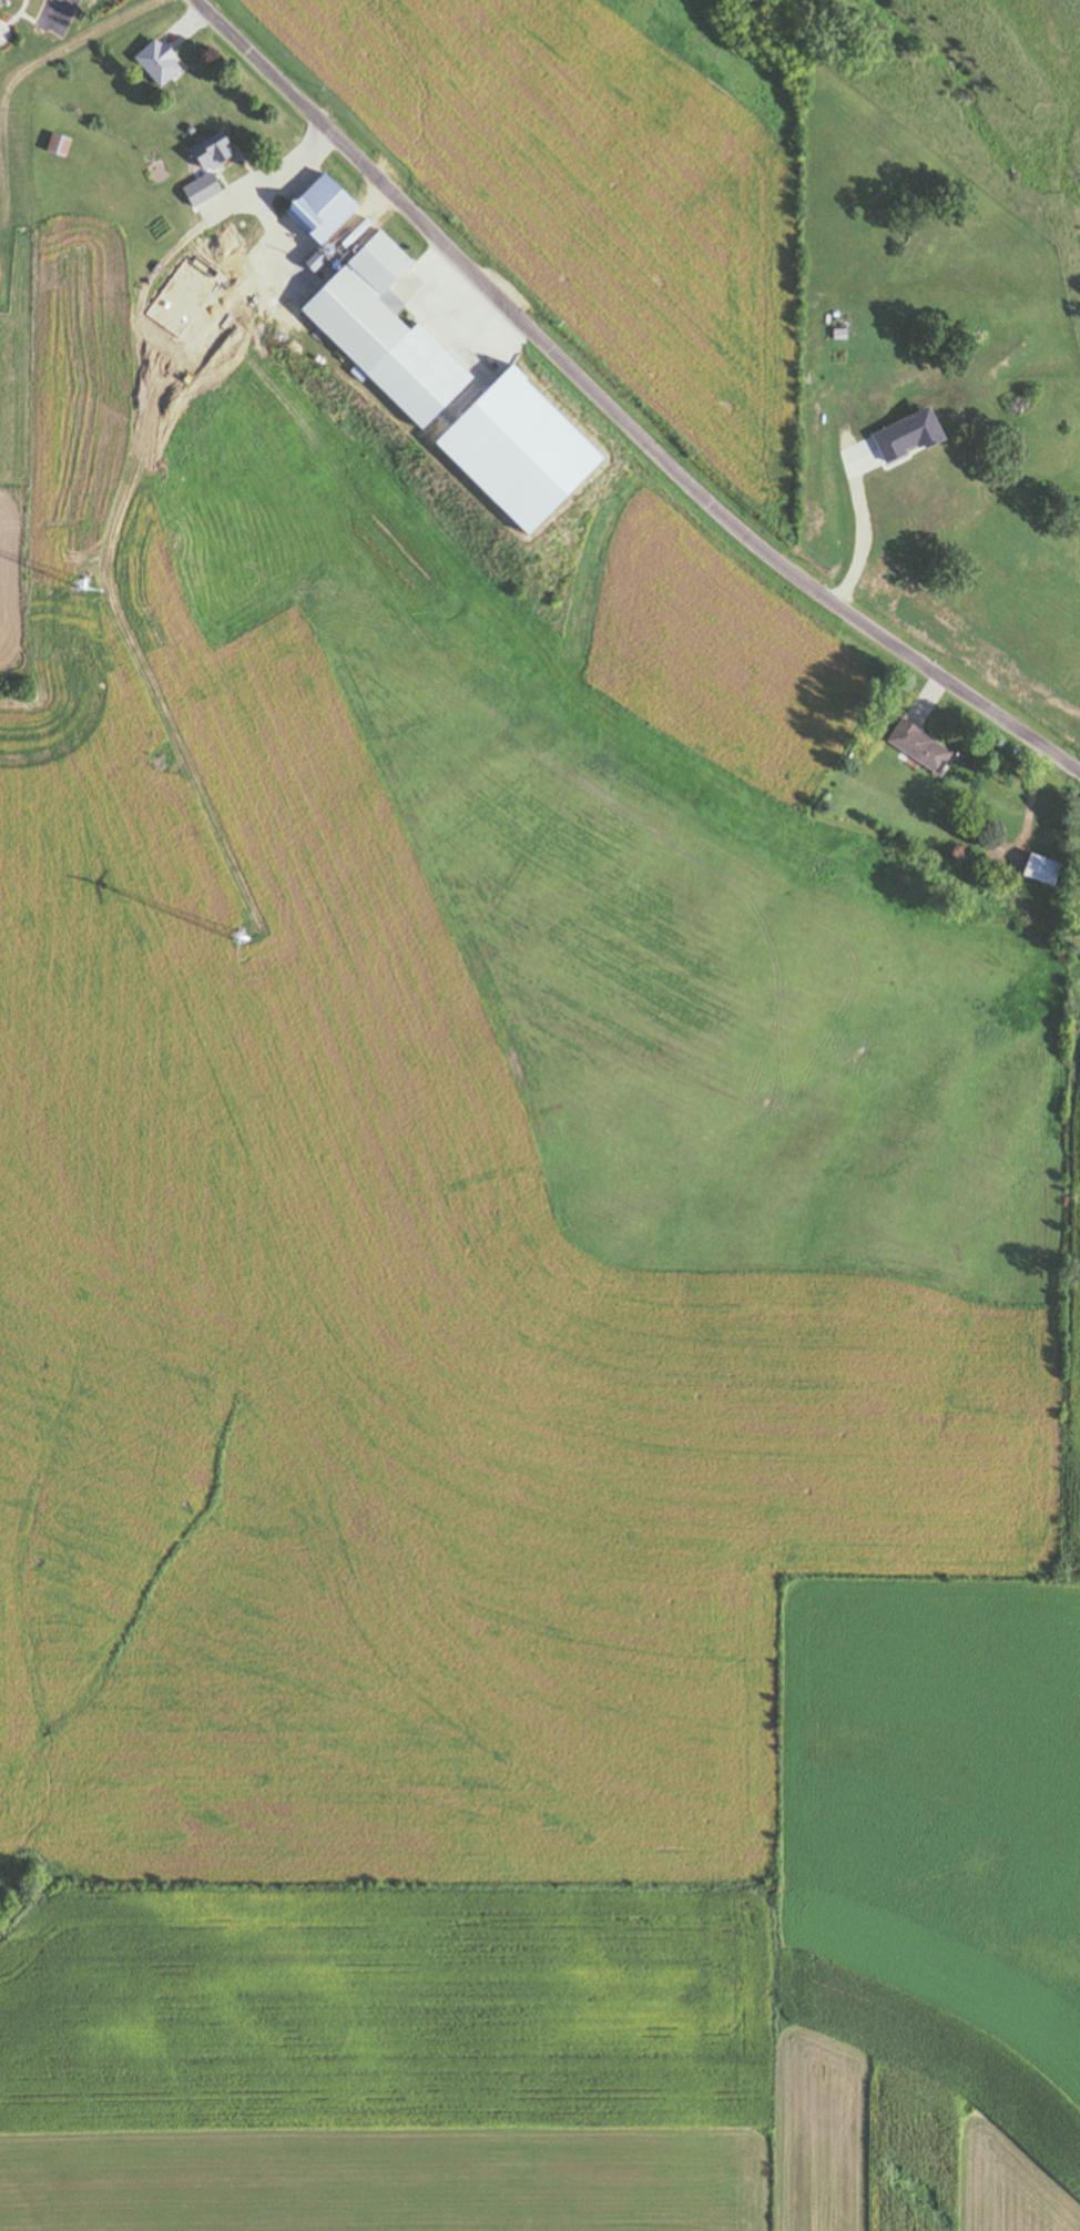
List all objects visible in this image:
building: (0, 0)
road: (348, 365)
road: (617, 416)

